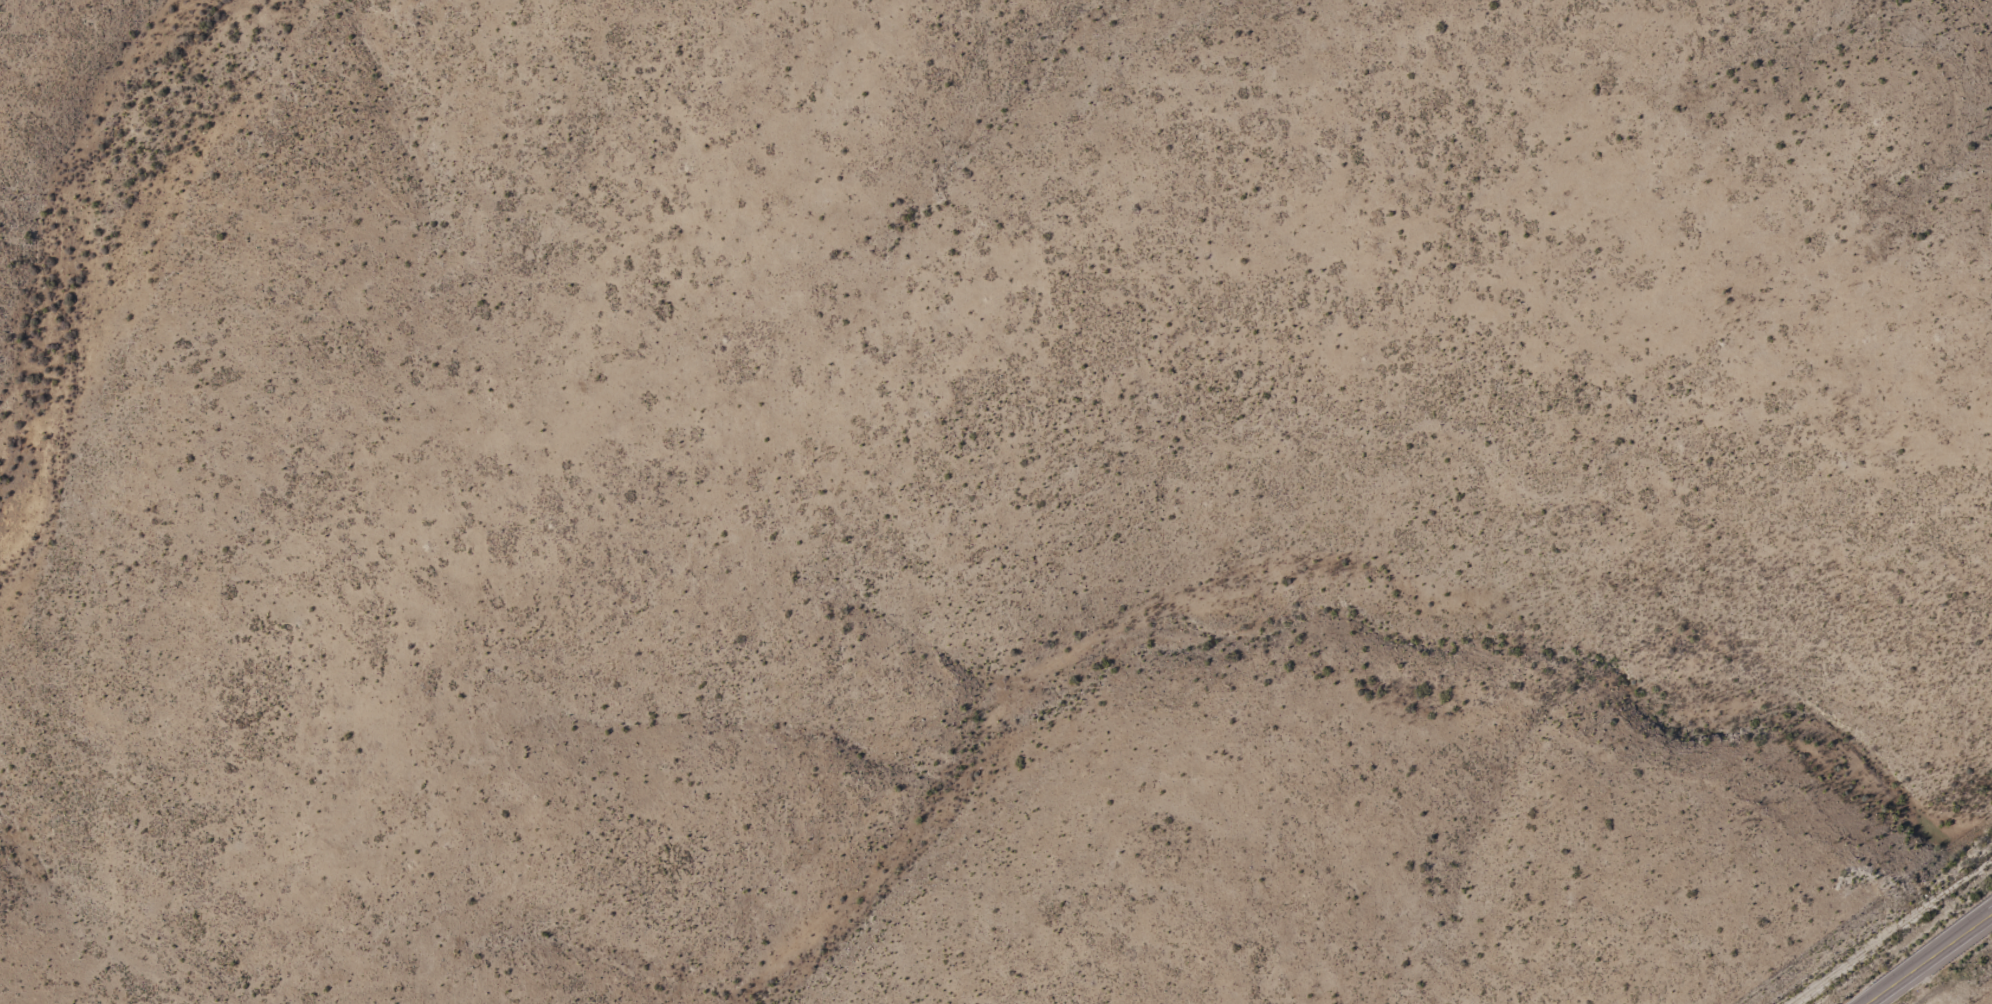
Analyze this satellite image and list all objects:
road: (1987, 912)
road: (1922, 960)

